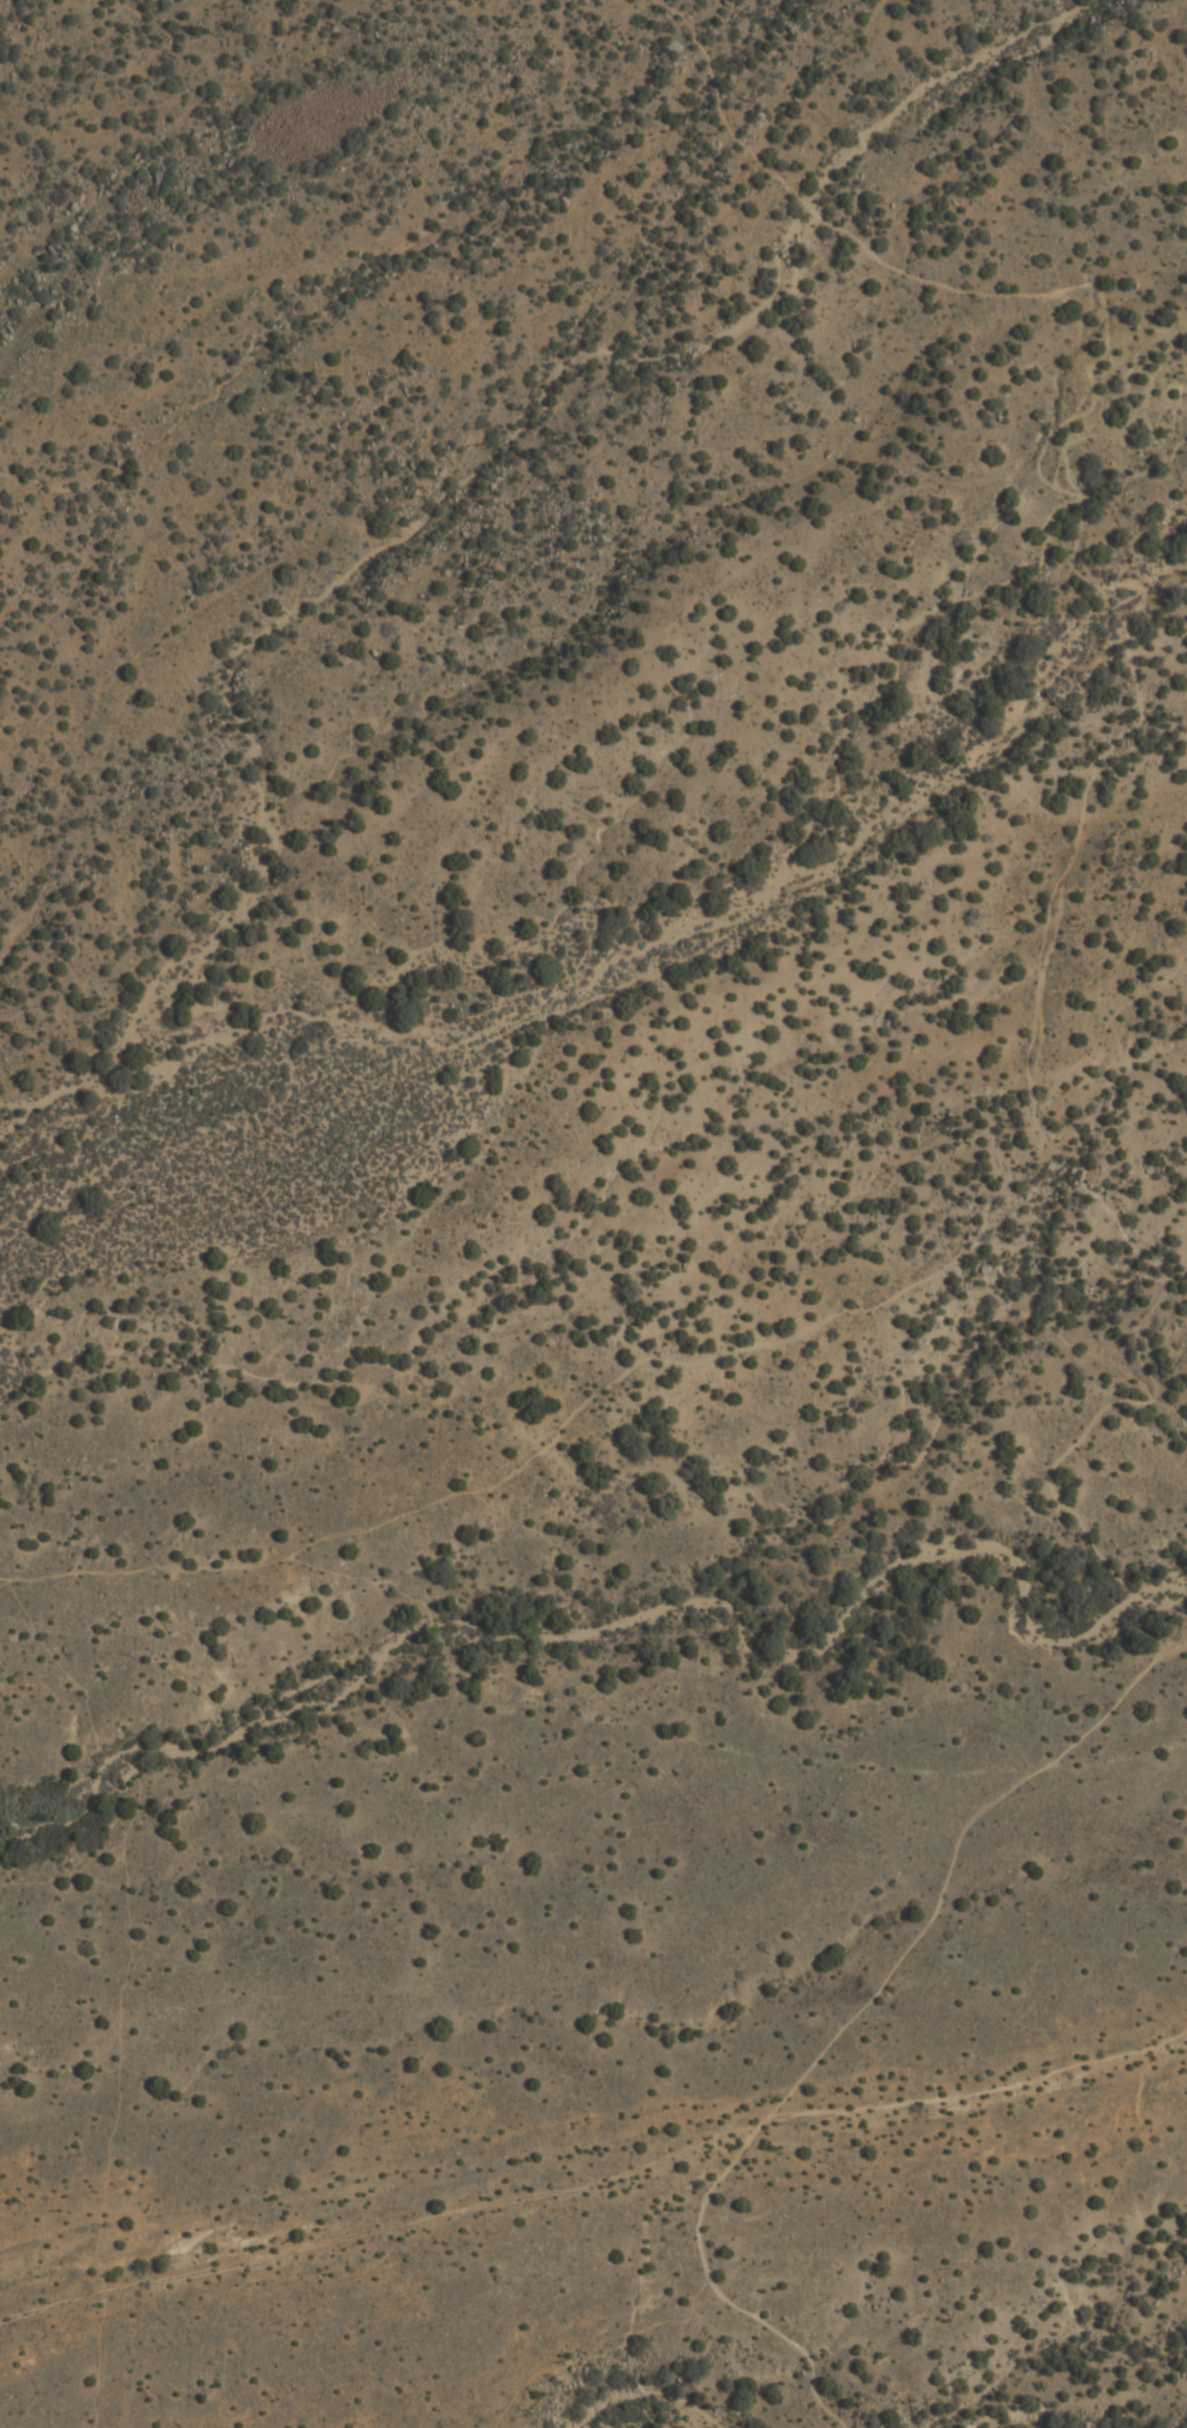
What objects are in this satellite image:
road: (1116, 1201)
road: (686, 1360)
road: (1156, 1608)
road: (592, 1632)
road: (1182, 1636)
road: (979, 2086)

